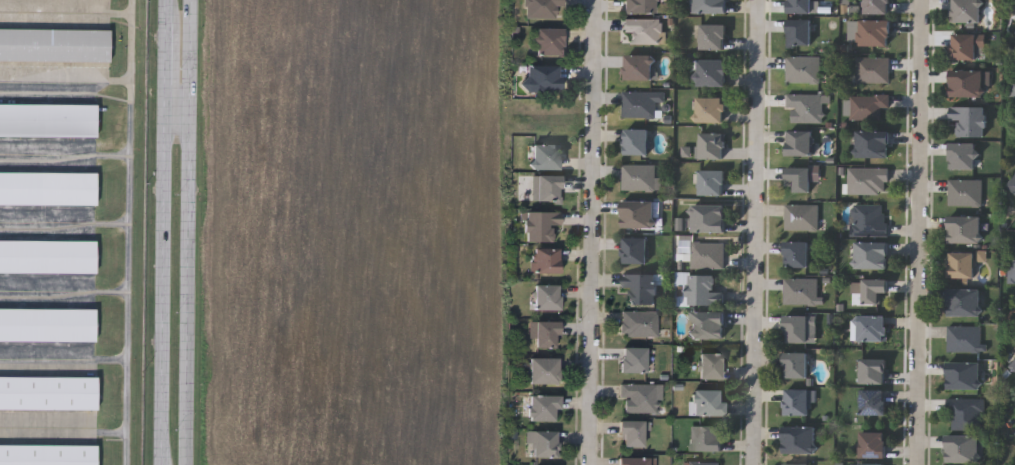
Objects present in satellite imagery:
building: (1012, 2)
building: (637, 6)
building: (706, 6)
building: (798, 6)
building: (875, 6)
building: (540, 8)
building: (965, 11)
building: (641, 30)
building: (873, 32)
building: (797, 33)
building: (711, 36)
building: (547, 40)
building: (54, 43)
building: (963, 46)
building: (636, 67)
building: (801, 69)
building: (871, 69)
road: (177, 70)
building: (709, 72)
building: (540, 77)
building: (966, 82)
building: (1010, 90)
building: (639, 102)
building: (865, 106)
building: (803, 108)
building: (707, 109)
building: (47, 118)
building: (968, 119)
building: (634, 141)
building: (797, 143)
building: (870, 143)
building: (710, 145)
building: (961, 155)
building: (544, 156)
building: (638, 178)
building: (797, 178)
building: (866, 180)
building: (710, 182)
building: (1011, 185)
building: (47, 186)
building: (544, 188)
building: (964, 192)
building: (636, 214)
building: (706, 217)
building: (799, 217)
building: (867, 219)
building: (539, 224)
building: (964, 229)
airport: (73, 230)
road: (163, 232)
road: (186, 232)
road: (591, 232)
road: (758, 232)
road: (921, 232)
building: (633, 250)
building: (47, 254)
building: (706, 254)
building: (794, 254)
building: (870, 254)
building: (545, 260)
building: (1010, 263)
building: (961, 264)
building: (639, 287)
building: (872, 289)
building: (702, 290)
building: (799, 291)
building: (545, 296)
building: (963, 301)
building: (47, 322)
building: (637, 323)
building: (705, 324)
building: (870, 327)
building: (794, 328)
building: (545, 333)
building: (962, 338)
building: (632, 359)
building: (709, 365)
building: (793, 365)
building: (1012, 365)
building: (543, 370)
building: (871, 370)
building: (962, 375)
building: (47, 391)
building: (636, 397)
building: (706, 401)
building: (872, 401)
building: (795, 402)
building: (541, 407)
building: (964, 413)
building: (631, 433)
building: (708, 437)
building: (797, 439)
building: (871, 445)
building: (963, 448)
building: (47, 454)
building: (634, 461)
building: (702, 463)
building: (795, 464)
building: (870, 464)

